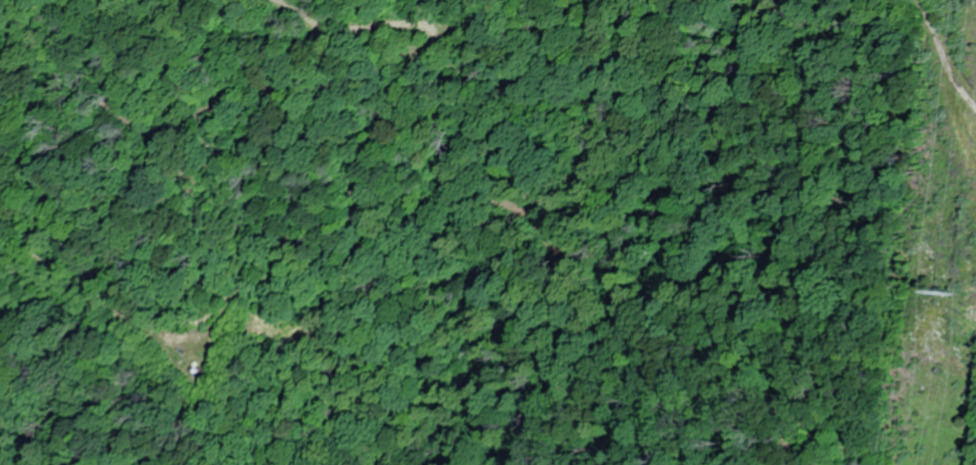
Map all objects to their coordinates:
power tower: (944, 294)

